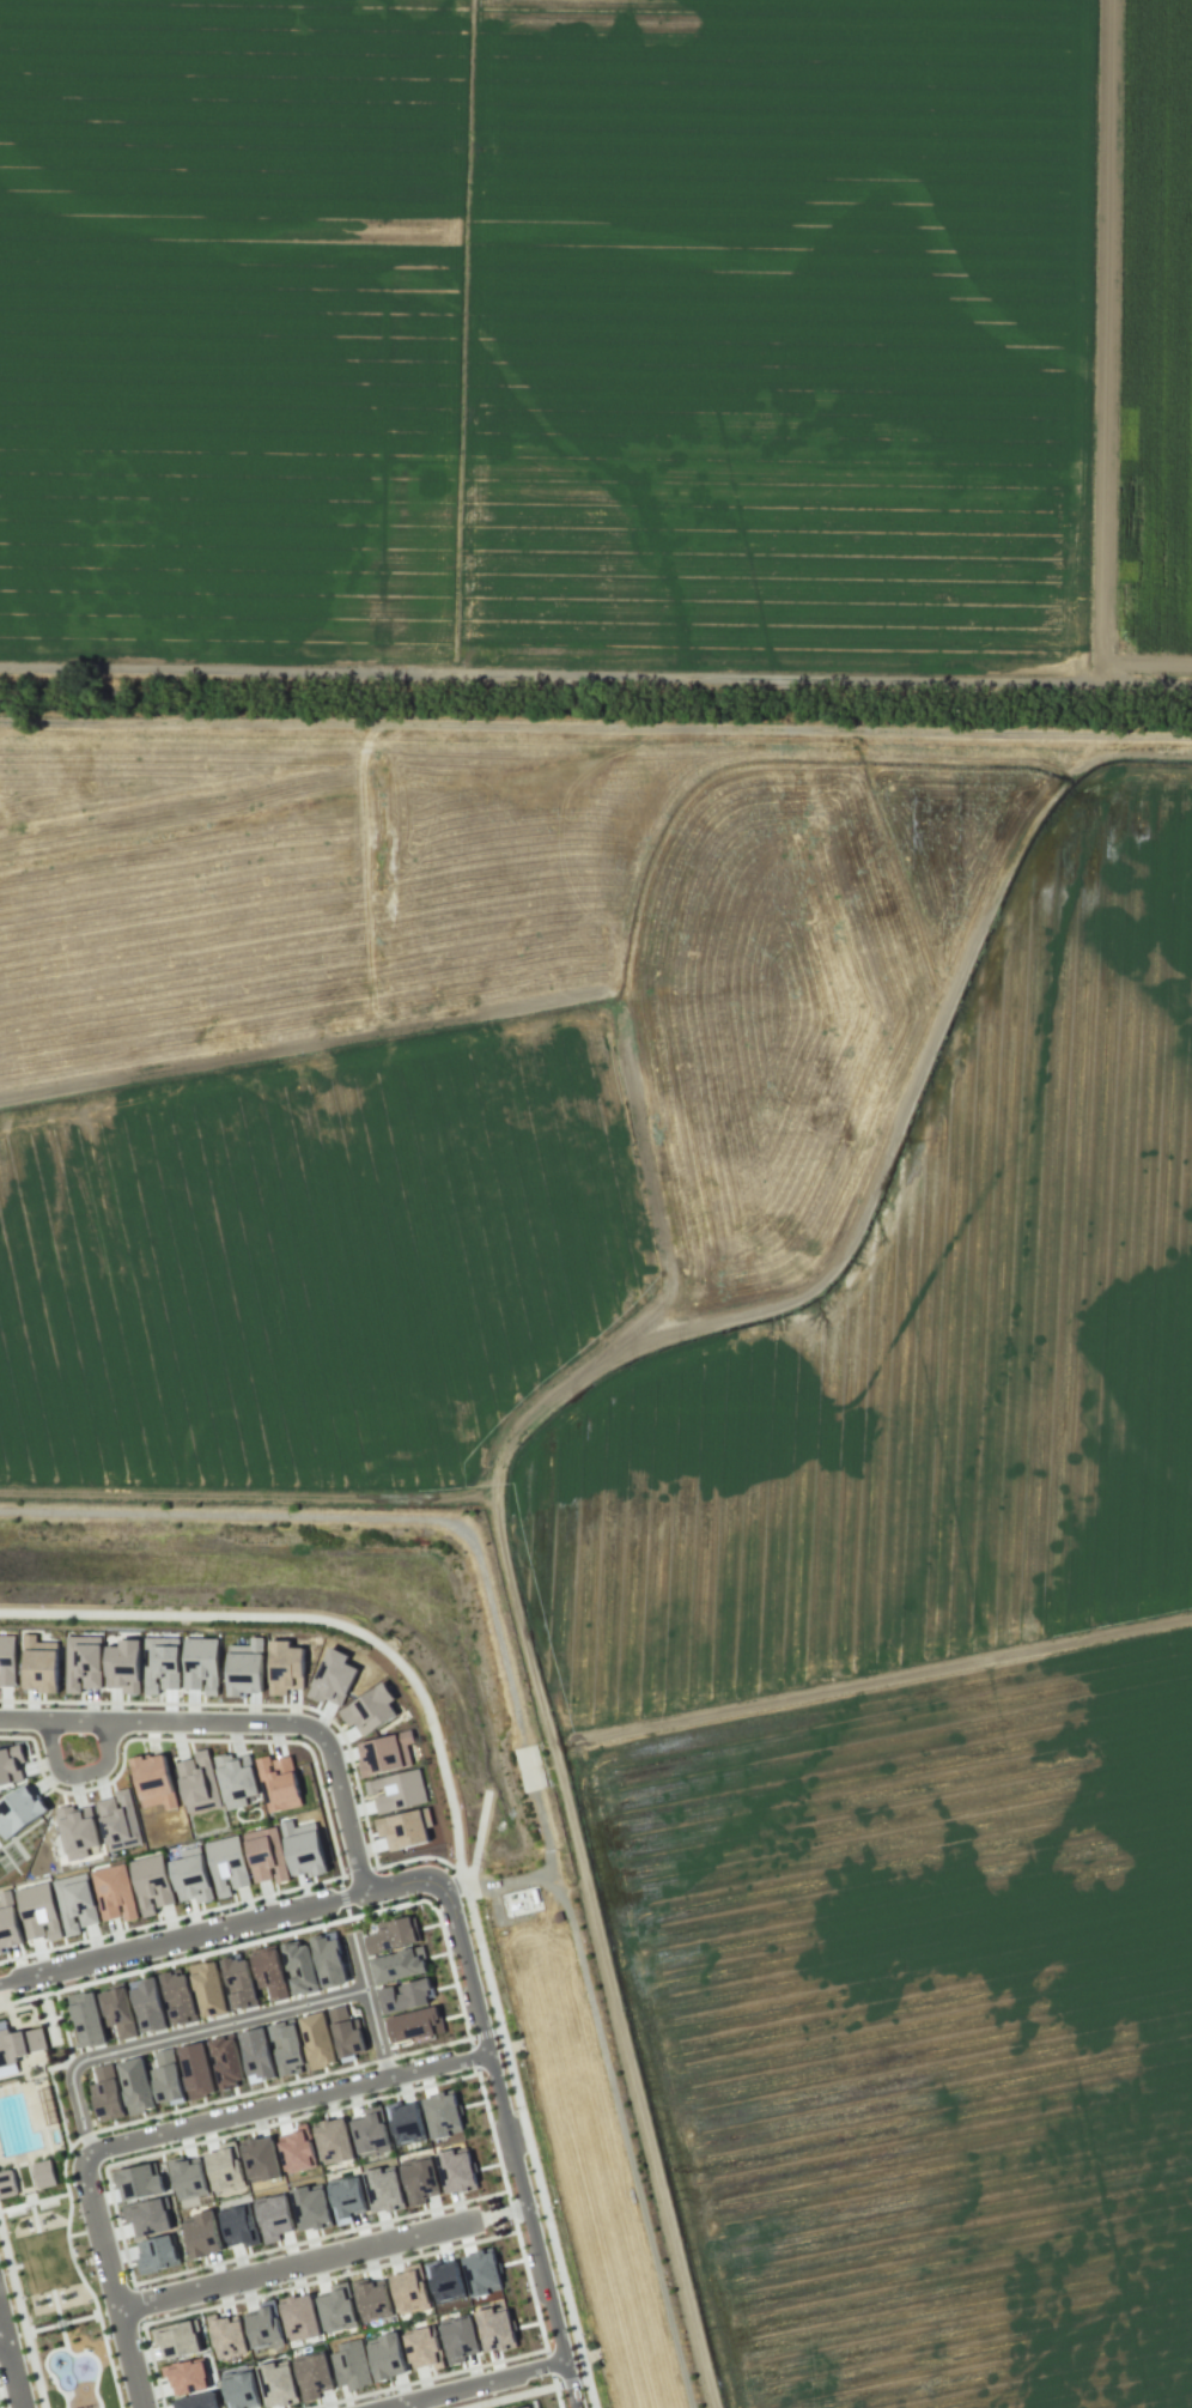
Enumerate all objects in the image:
crop: (317, 1269)
road: (832, 1274)
crop: (931, 1360)
road: (315, 1619)
building: (7, 1658)
building: (83, 1662)
building: (39, 1664)
building: (123, 1664)
building: (160, 1664)
building: (201, 1664)
building: (245, 1667)
building: (285, 1667)
building: (333, 1679)
road: (872, 1682)
street lamp: (103, 1708)
building: (370, 1710)
road: (243, 1723)
building: (387, 1753)
building: (10, 1764)
road: (77, 1775)
building: (236, 1778)
building: (152, 1781)
building: (197, 1781)
street lamp: (89, 1783)
building: (278, 1783)
building: (399, 1790)
building: (18, 1810)
street lamp: (359, 1819)
building: (118, 1820)
building: (405, 1827)
building: (77, 1830)
building: (303, 1848)
building: (266, 1855)
building: (226, 1864)
road: (359, 1870)
building: (191, 1876)
building: (151, 1884)
building: (114, 1893)
road: (341, 1897)
building: (75, 1903)
street lamp: (378, 1904)
street lamp: (476, 1905)
street lamp: (227, 1911)
road: (346, 1911)
building: (38, 1912)
building: (8, 1923)
road: (219, 1928)
road: (292, 1930)
building: (394, 1934)
building: (327, 1959)
building: (402, 1964)
building: (298, 1966)
street lamp: (456, 1966)
building: (268, 1971)
street lamp: (92, 1976)
building: (238, 1983)
building: (208, 1988)
building: (405, 1995)
building: (177, 1996)
building: (147, 2003)
road: (369, 2006)
building: (117, 2009)
building: (86, 2019)
street lamp: (504, 2021)
building: (414, 2024)
crop: (922, 2028)
building: (346, 2032)
road: (486, 2033)
road: (175, 2036)
building: (316, 2039)
building: (19, 2044)
building: (285, 2046)
building: (256, 2052)
building: (226, 2062)
road: (54, 2066)
street lamp: (472, 2068)
building: (195, 2070)
building: (0, 2075)
building: (166, 2076)
building: (134, 2086)
building: (104, 2092)
road: (288, 2101)
street lamp: (512, 2111)
road: (164, 2112)
building: (443, 2115)
building: (408, 2122)
building: (372, 2131)
road: (527, 2139)
building: (334, 2140)
building: (296, 2145)
road: (510, 2145)
building: (260, 2158)
building: (224, 2167)
building: (456, 2172)
building: (43, 2173)
building: (187, 2177)
building: (139, 2182)
building: (6, 2183)
building: (400, 2184)
building: (347, 2197)
street lamp: (551, 2206)
building: (310, 2207)
road: (501, 2214)
street lamp: (79, 2215)
building: (148, 2215)
building: (274, 2216)
park: (48, 2218)
building: (238, 2226)
building: (202, 2234)
building: (157, 2254)
road: (298, 2263)
building: (481, 2271)
street lamp: (2, 2273)
road: (111, 2280)
building: (444, 2280)
street lamp: (278, 2285)
street lamp: (147, 2286)
building: (409, 2289)
street lamp: (23, 2297)
building: (371, 2299)
building: (336, 2309)
road: (23, 2317)
building: (299, 2317)
road: (42, 2327)
building: (264, 2327)
building: (495, 2329)
building: (227, 2335)
road: (1, 2337)
building: (180, 2339)
building: (458, 2340)
building: (422, 2348)
road: (74, 2353)
building: (385, 2357)
road: (108, 2360)
road: (11, 2365)
building: (349, 2365)
road: (47, 2371)
building: (187, 2376)
building: (312, 2376)
road: (583, 2379)
road: (570, 2382)
road: (472, 2383)
building: (276, 2384)
building: (241, 2391)
road: (512, 2396)
street lamp: (156, 2401)
building: (195, 2401)
road: (405, 2404)
building: (535, 2407)

